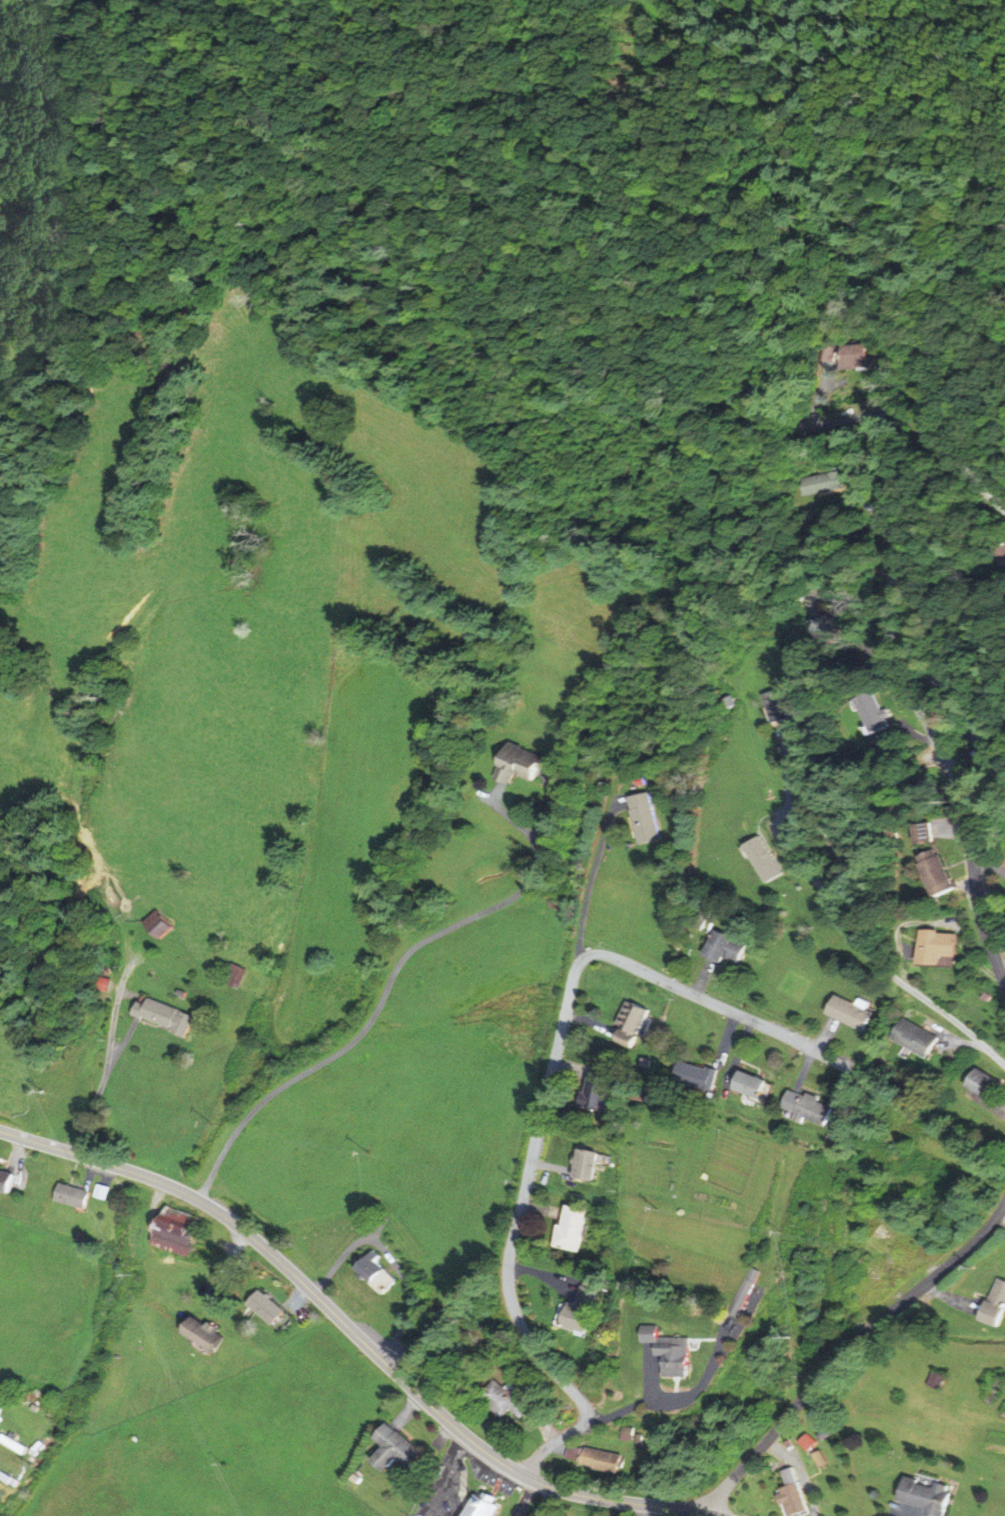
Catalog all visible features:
building: (850, 355)
building: (751, 390)
road: (896, 406)
road: (977, 480)
building: (814, 484)
building: (996, 556)
road: (948, 606)
road: (916, 703)
building: (769, 706)
building: (865, 714)
building: (525, 765)
building: (647, 819)
building: (832, 836)
road: (989, 865)
building: (931, 874)
road: (593, 883)
building: (158, 925)
building: (723, 948)
building: (933, 950)
building: (94, 985)
road: (383, 990)
building: (852, 1014)
building: (166, 1017)
building: (626, 1024)
building: (913, 1039)
building: (691, 1076)
building: (748, 1085)
building: (985, 1085)
road: (99, 1087)
building: (593, 1095)
road: (544, 1101)
building: (813, 1110)
building: (584, 1165)
building: (10, 1181)
building: (76, 1197)
building: (570, 1229)
building: (180, 1233)
building: (380, 1274)
building: (748, 1291)
building: (997, 1306)
building: (271, 1308)
building: (587, 1309)
building: (206, 1334)
road: (356, 1336)
road: (849, 1350)
building: (675, 1354)
building: (511, 1400)
building: (41, 1404)
road: (633, 1406)
building: (11, 1445)
building: (402, 1451)
building: (607, 1461)
building: (6, 1481)
building: (790, 1495)
building: (927, 1496)
building: (491, 1507)
road: (646, 1511)

